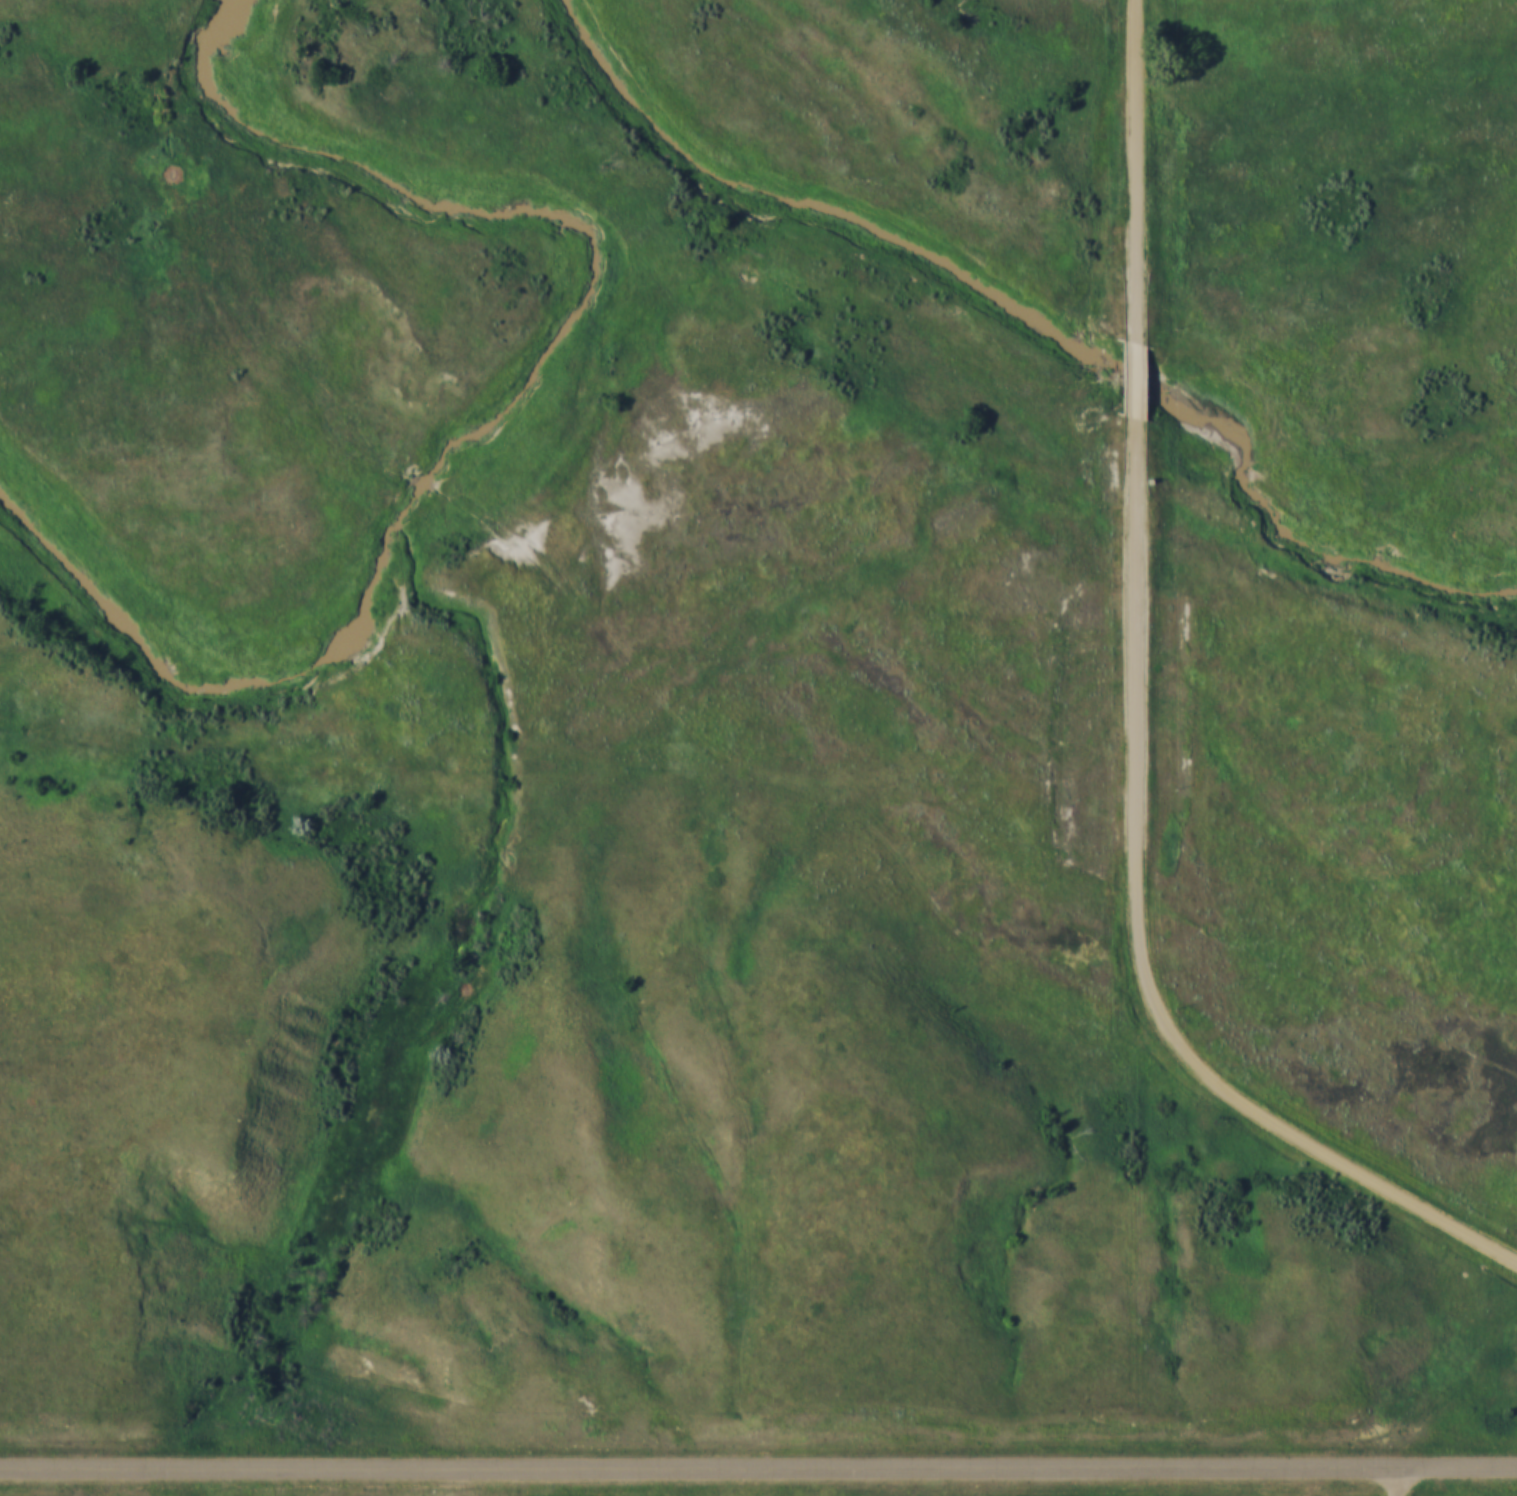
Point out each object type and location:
road: (1136, 172)
road: (1138, 382)
road: (1138, 937)
road: (758, 1468)
road: (1410, 1483)

